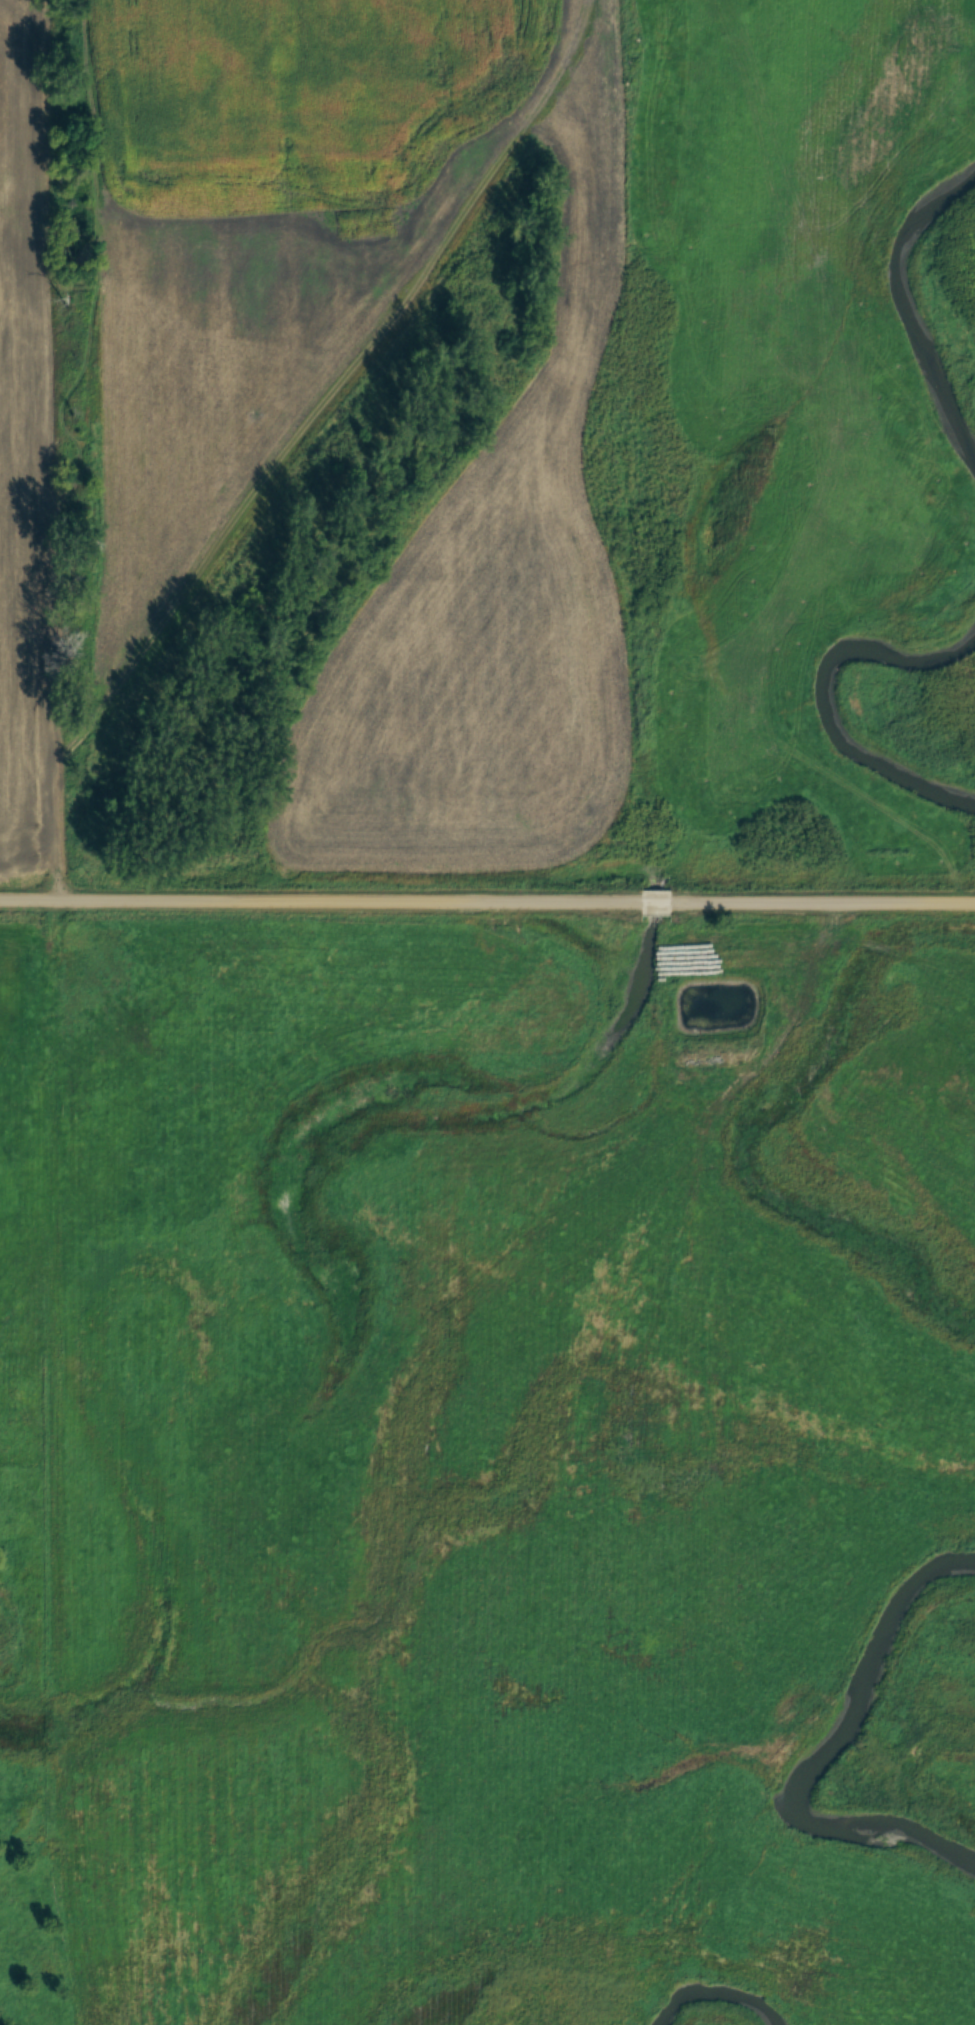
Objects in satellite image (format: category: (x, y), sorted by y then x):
river: (923, 309)
road: (57, 451)
river: (830, 663)
road: (321, 903)
road: (656, 905)
road: (822, 905)
river: (821, 1751)
river: (714, 2017)

